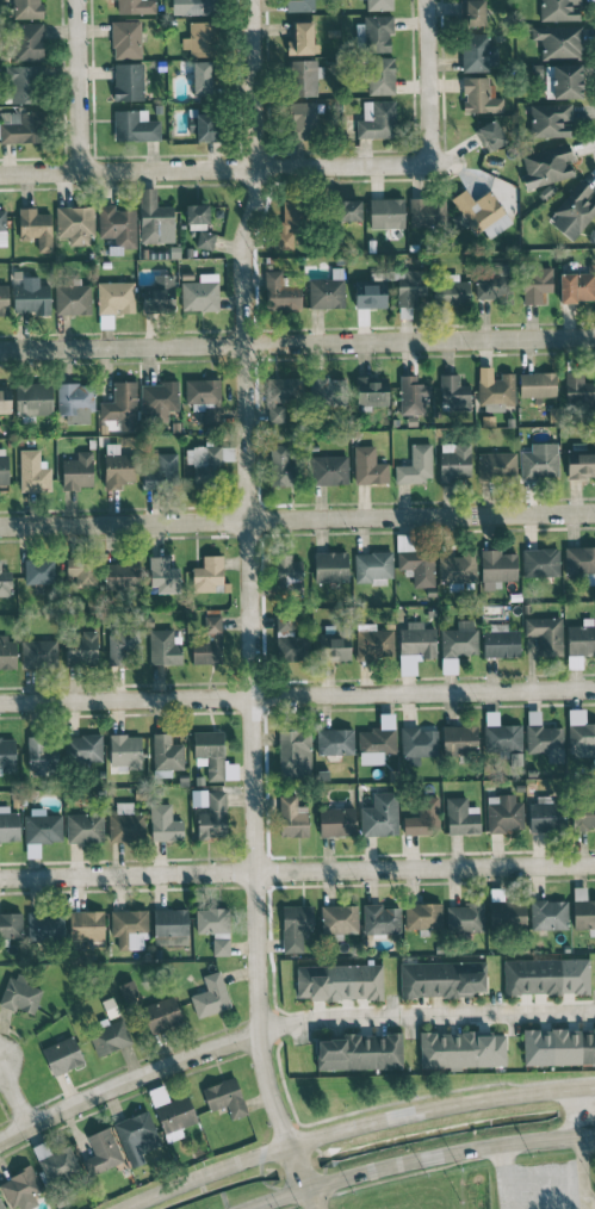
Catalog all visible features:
building: (299, 5)
building: (379, 5)
building: (136, 6)
building: (198, 7)
building: (25, 8)
building: (559, 10)
building: (472, 12)
building: (377, 32)
building: (303, 37)
building: (200, 38)
building: (125, 39)
building: (558, 41)
building: (27, 42)
building: (478, 51)
building: (380, 75)
building: (303, 76)
building: (202, 77)
building: (129, 81)
building: (563, 81)
road: (426, 82)
building: (25, 83)
road: (75, 86)
building: (479, 95)
building: (377, 119)
building: (550, 119)
building: (303, 120)
building: (204, 125)
building: (135, 126)
building: (24, 129)
building: (490, 135)
building: (546, 165)
road: (225, 168)
building: (348, 210)
building: (427, 211)
building: (574, 211)
building: (386, 212)
building: (482, 212)
building: (197, 213)
building: (155, 218)
building: (290, 223)
building: (75, 224)
building: (2, 227)
building: (117, 227)
building: (36, 228)
building: (205, 240)
building: (491, 279)
building: (535, 284)
building: (577, 286)
building: (279, 289)
building: (453, 290)
building: (327, 291)
building: (200, 293)
building: (161, 294)
building: (370, 294)
building: (31, 296)
building: (116, 297)
building: (73, 298)
building: (4, 299)
road: (297, 341)
building: (538, 384)
building: (495, 387)
building: (283, 389)
building: (578, 389)
building: (372, 390)
building: (328, 391)
building: (454, 393)
building: (413, 395)
building: (204, 397)
building: (5, 398)
building: (33, 398)
building: (75, 402)
building: (122, 405)
building: (277, 413)
building: (209, 459)
building: (539, 460)
building: (454, 461)
building: (416, 464)
building: (579, 464)
building: (4, 466)
building: (281, 466)
building: (368, 466)
building: (497, 466)
building: (118, 469)
building: (329, 470)
building: (78, 471)
building: (162, 471)
building: (33, 472)
road: (297, 516)
building: (540, 562)
building: (581, 562)
building: (331, 565)
building: (373, 566)
building: (417, 566)
building: (458, 568)
building: (497, 568)
building: (82, 570)
building: (39, 571)
building: (287, 572)
building: (122, 573)
building: (209, 573)
building: (162, 575)
building: (5, 583)
road: (249, 608)
building: (545, 633)
building: (290, 640)
building: (501, 640)
building: (373, 641)
building: (209, 643)
building: (457, 643)
building: (415, 645)
building: (120, 646)
building: (165, 646)
building: (81, 647)
building: (334, 647)
building: (7, 652)
building: (38, 653)
road: (297, 695)
building: (579, 731)
building: (501, 736)
building: (459, 739)
building: (335, 740)
building: (419, 742)
building: (546, 742)
building: (376, 744)
building: (83, 748)
building: (125, 752)
building: (166, 752)
building: (295, 752)
building: (42, 754)
building: (210, 754)
building: (7, 755)
building: (594, 800)
building: (504, 813)
building: (380, 814)
building: (461, 816)
building: (292, 817)
building: (585, 817)
building: (423, 818)
building: (336, 821)
building: (126, 823)
building: (165, 823)
building: (8, 825)
building: (85, 827)
building: (41, 829)
road: (297, 868)
building: (507, 913)
building: (584, 913)
building: (548, 914)
building: (423, 916)
building: (465, 917)
building: (339, 918)
building: (380, 919)
building: (212, 920)
building: (169, 922)
building: (11, 925)
building: (45, 926)
building: (128, 926)
building: (295, 926)
building: (168, 940)
building: (221, 945)
building: (546, 975)
building: (441, 978)
building: (339, 981)
building: (129, 990)
building: (20, 993)
building: (210, 996)
road: (424, 1012)
building: (161, 1015)
building: (110, 1037)
building: (558, 1047)
building: (461, 1049)
building: (360, 1052)
building: (62, 1055)
road: (128, 1083)
road: (13, 1097)
building: (224, 1097)
road: (576, 1110)
building: (175, 1116)
road: (352, 1124)
building: (136, 1136)
building: (101, 1152)
road: (416, 1158)
building: (56, 1164)
road: (433, 1166)
road: (582, 1172)
building: (20, 1188)
building: (1, 1204)

